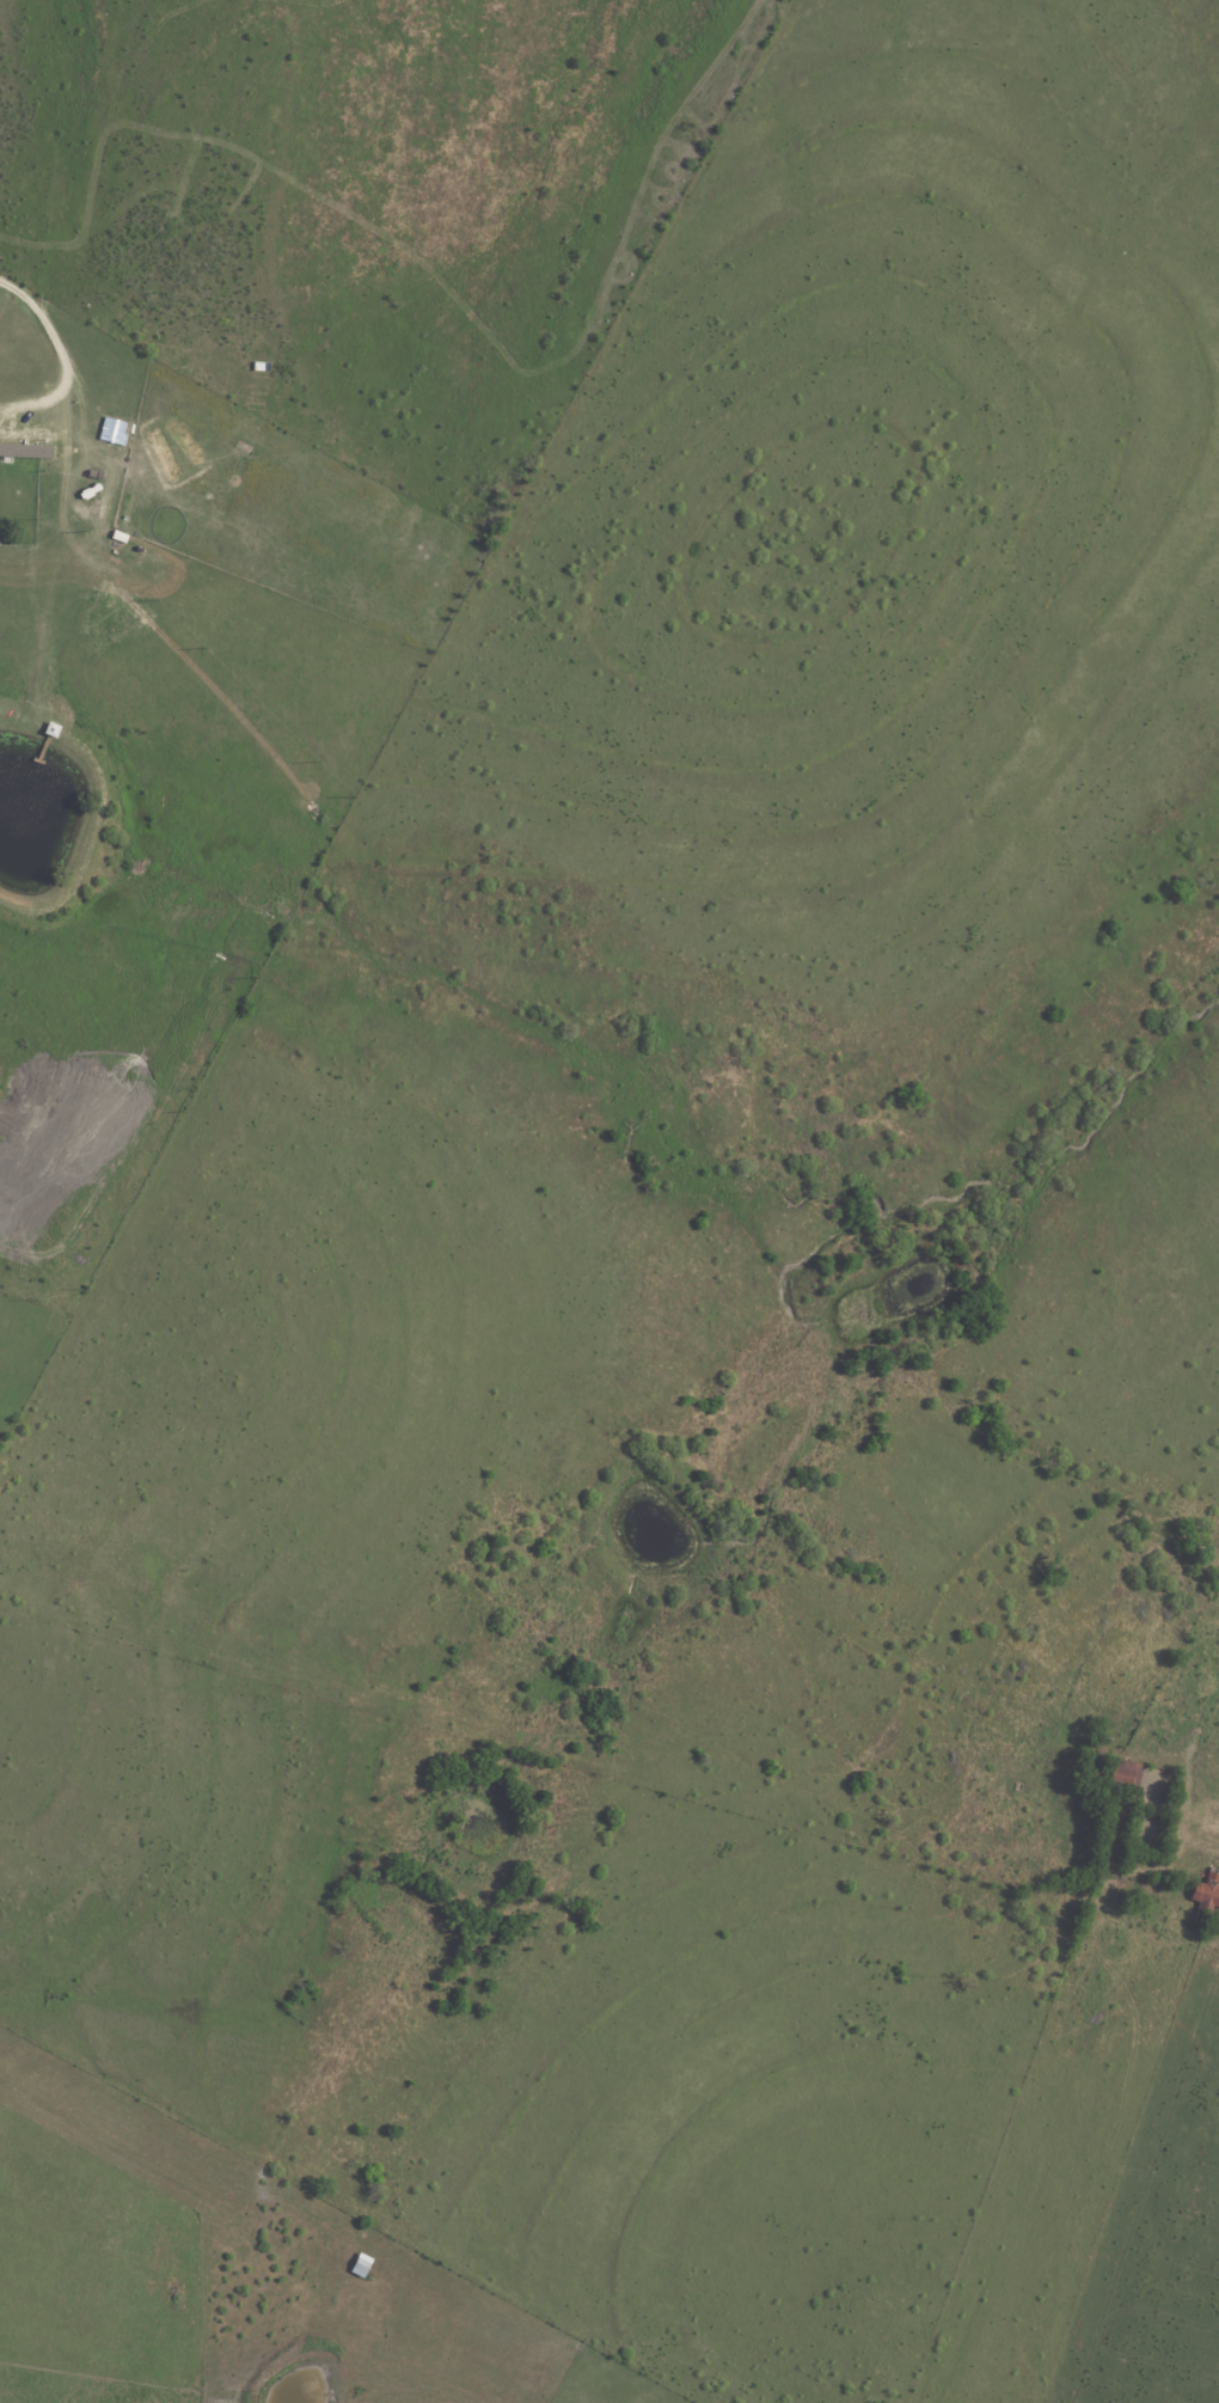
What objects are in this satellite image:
building: (6, 304)
road: (66, 359)
building: (26, 454)
building: (1110, 1774)
building: (1207, 1897)

